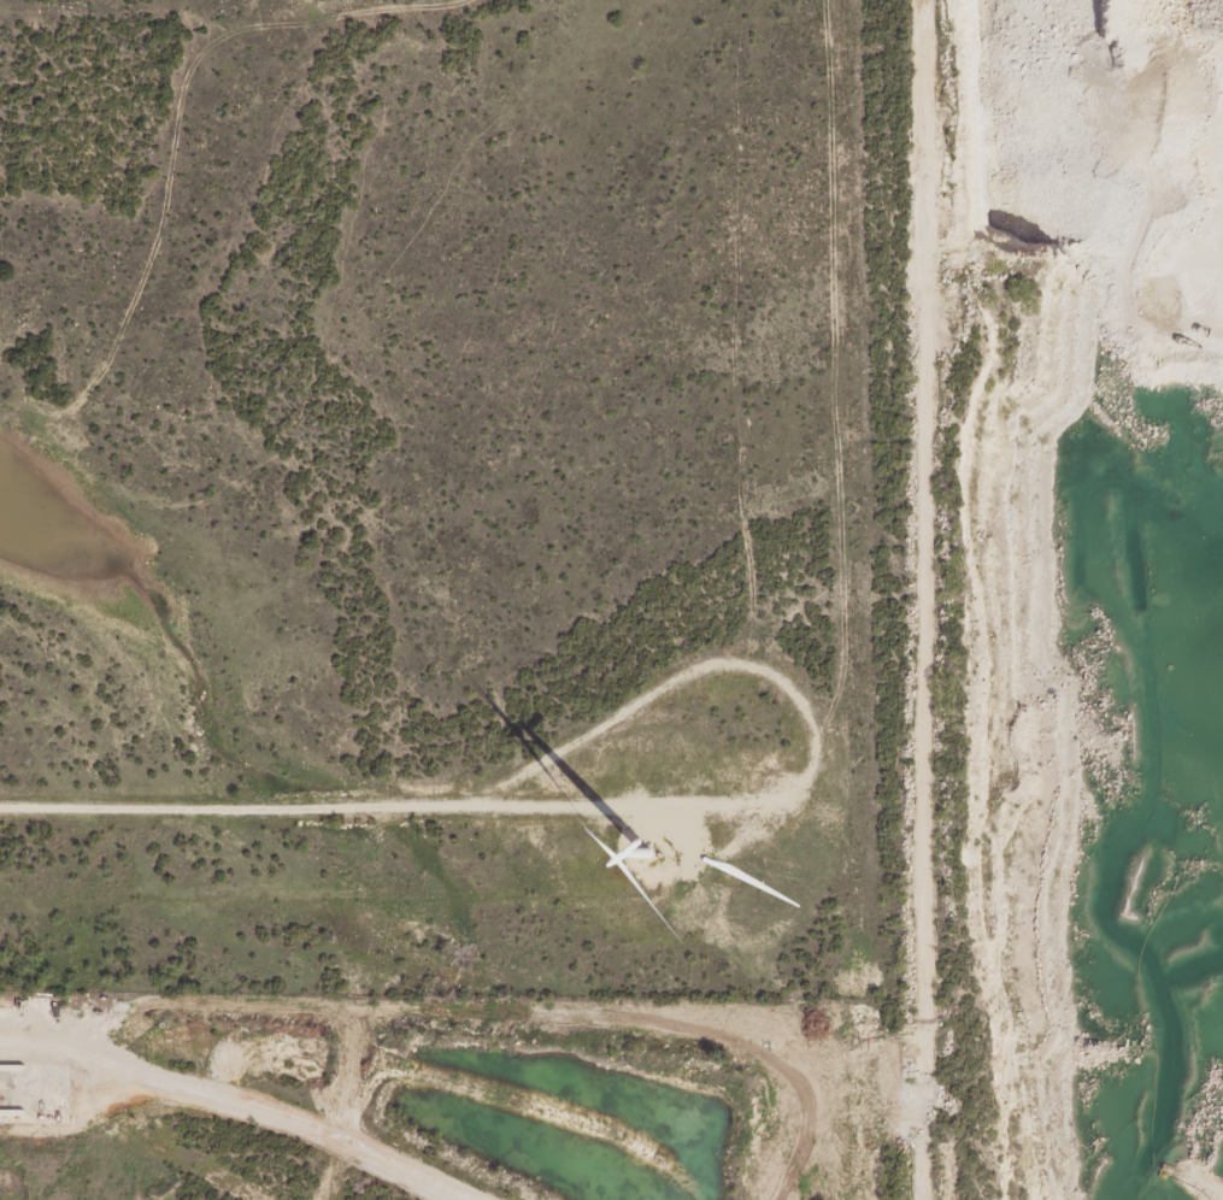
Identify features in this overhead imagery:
road: (936, 600)
wind turbine: (641, 863)

